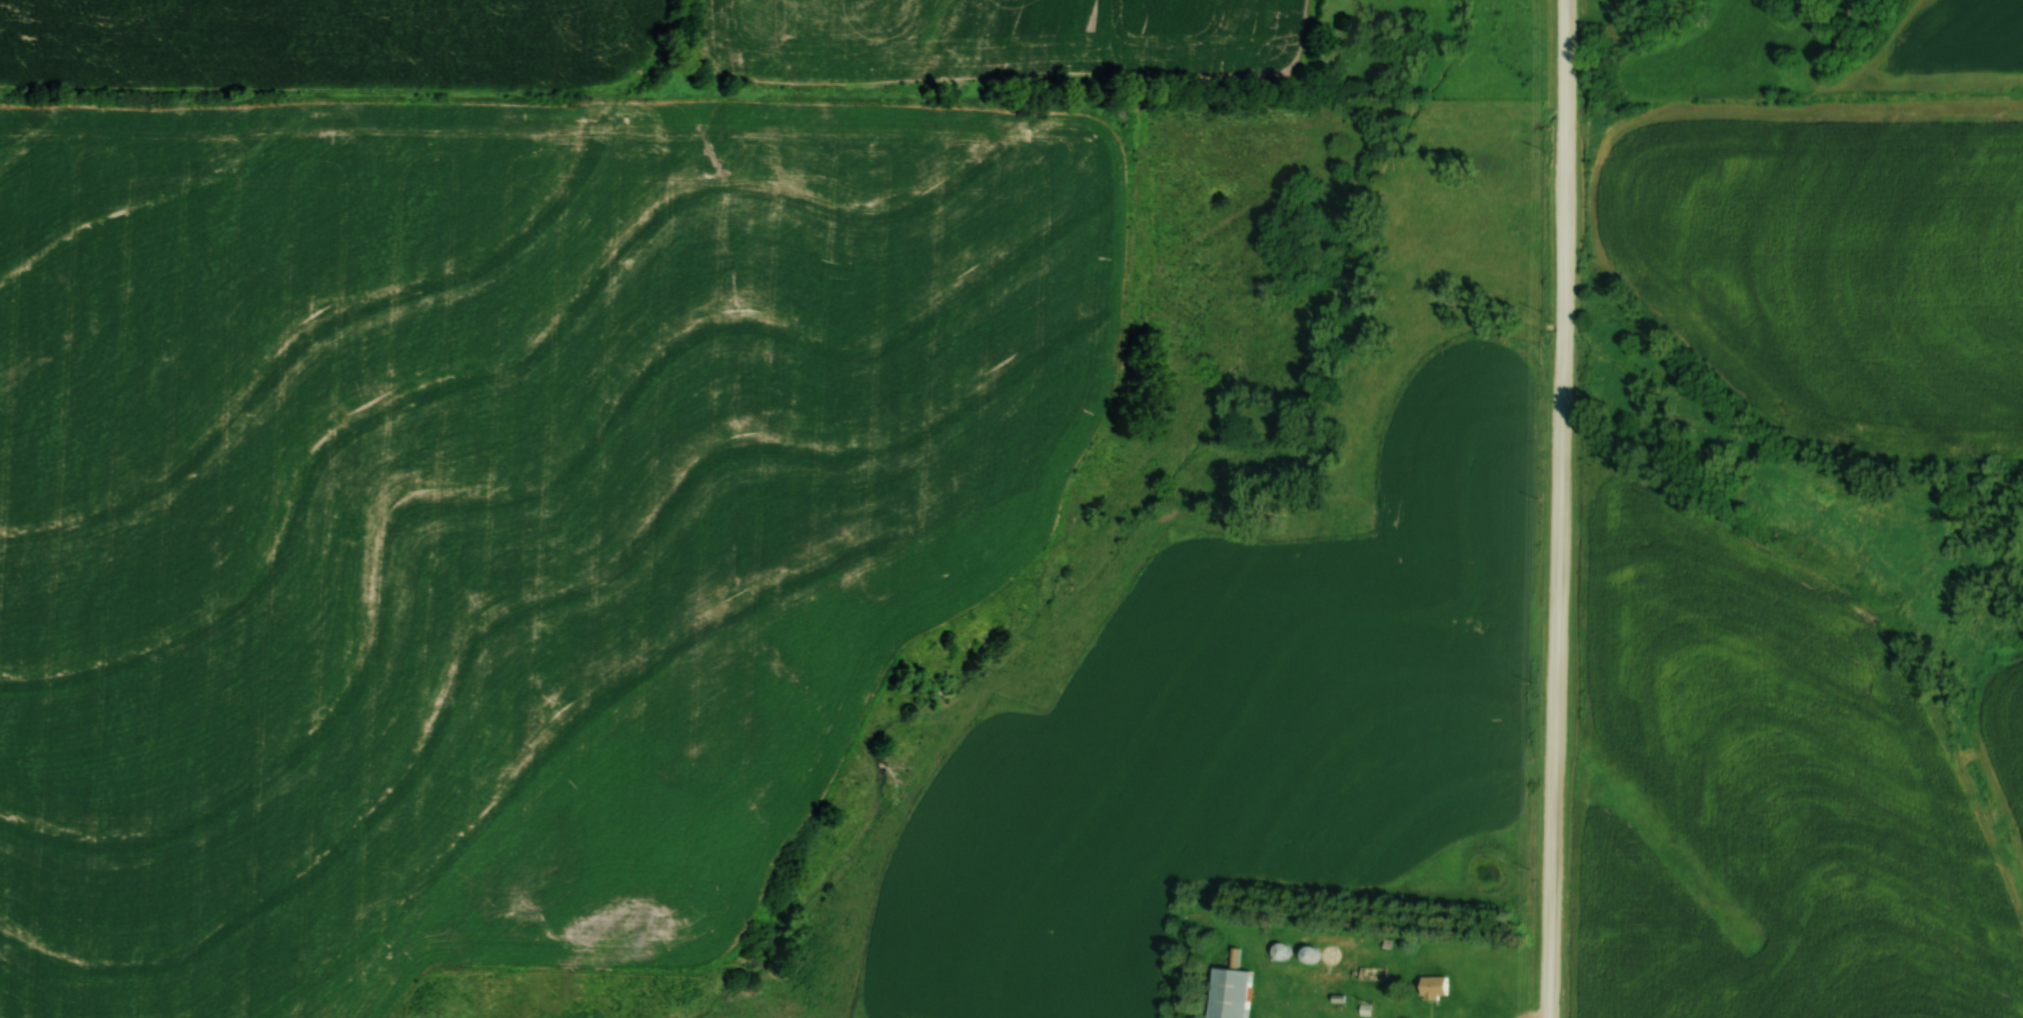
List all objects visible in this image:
road: (1560, 509)
building: (1318, 955)
building: (1432, 987)
building: (1225, 993)

